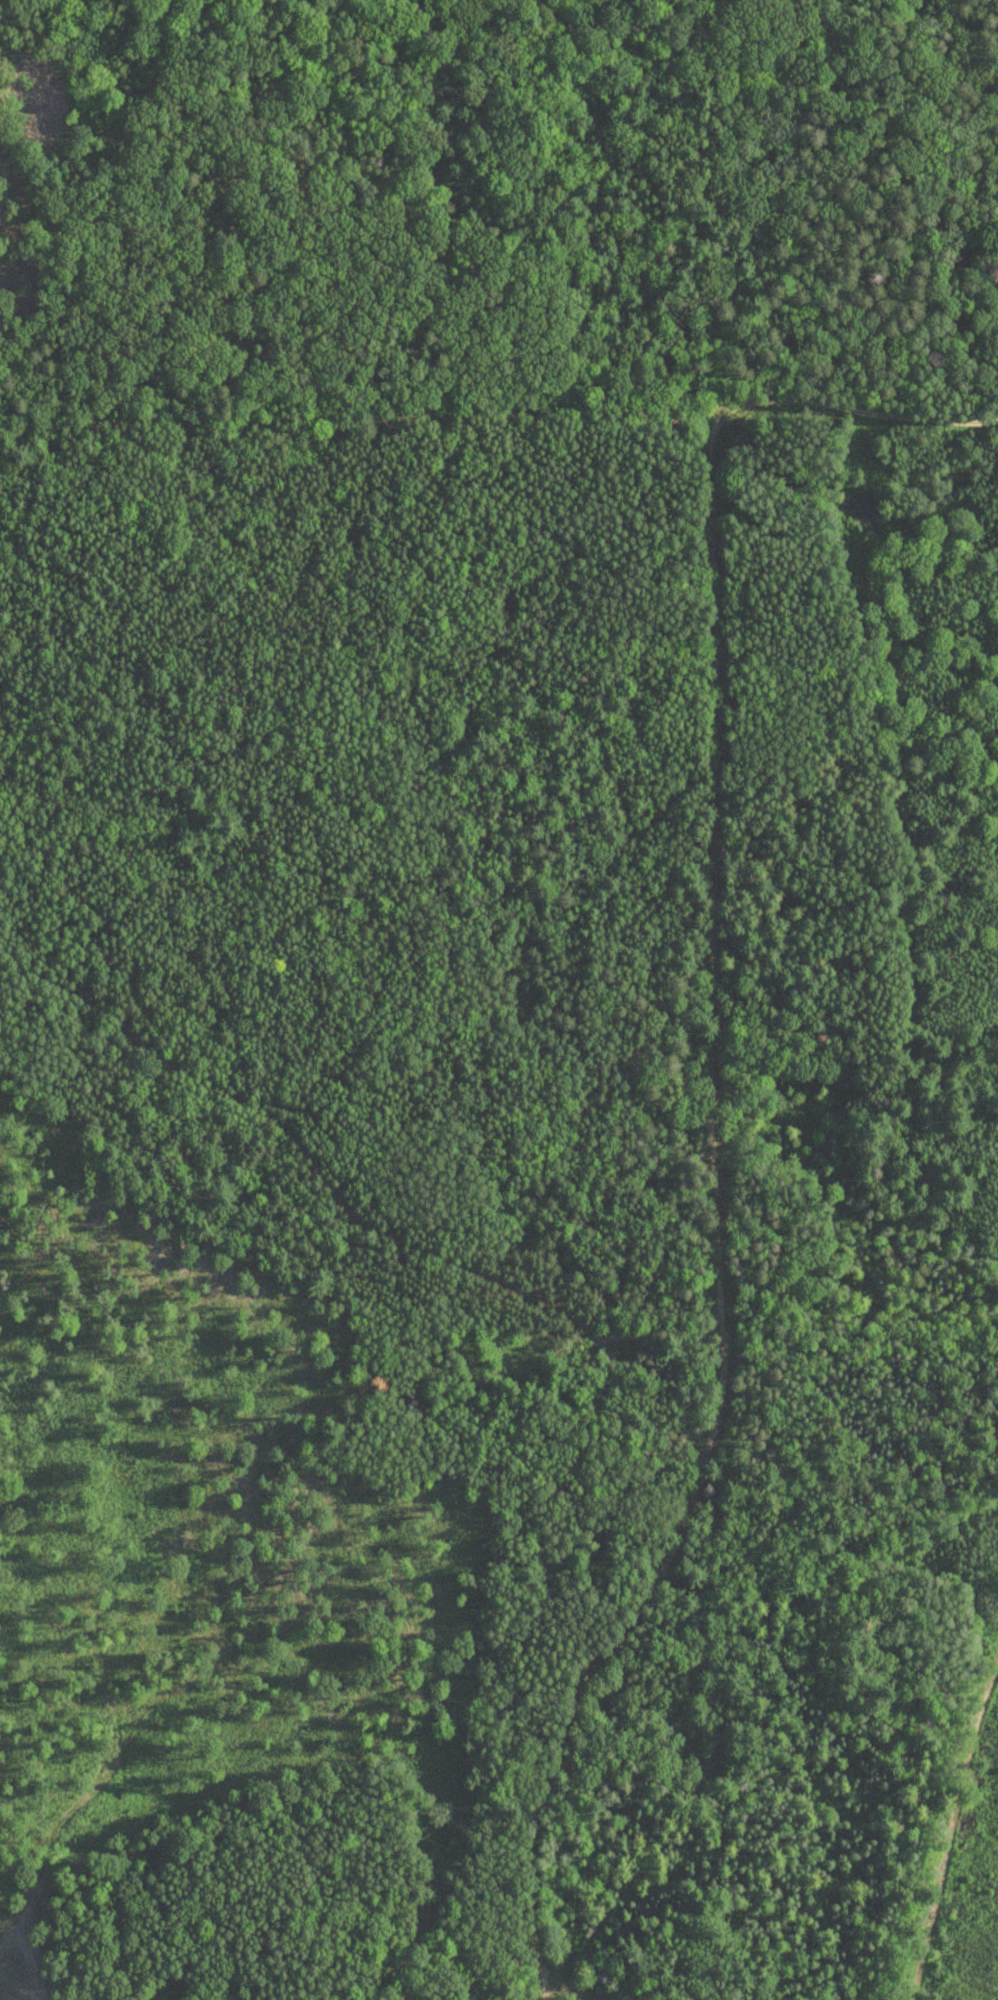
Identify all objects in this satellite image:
road: (498, 407)
road: (36, 933)
road: (718, 946)
road: (616, 1346)
road: (945, 1828)
road: (18, 1986)

